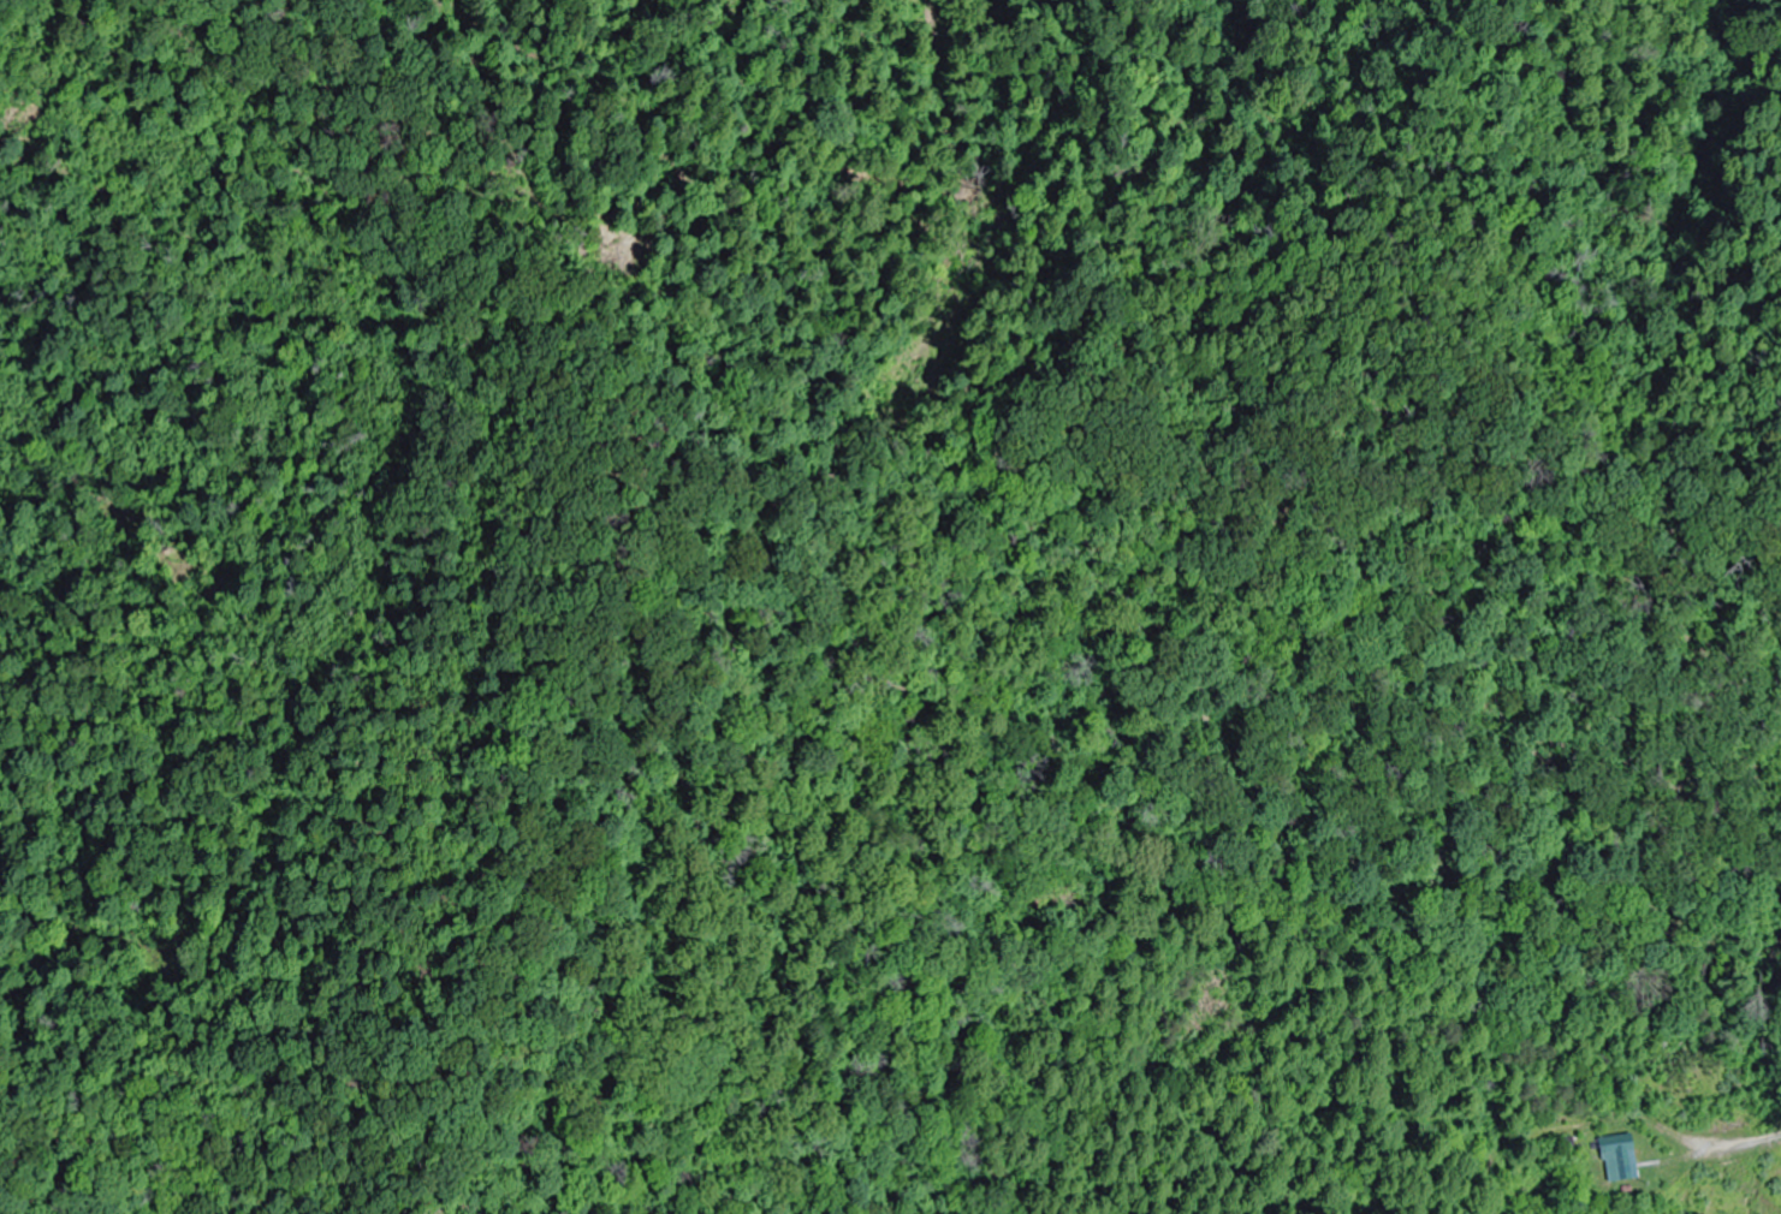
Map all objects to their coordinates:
building: (1614, 1158)

